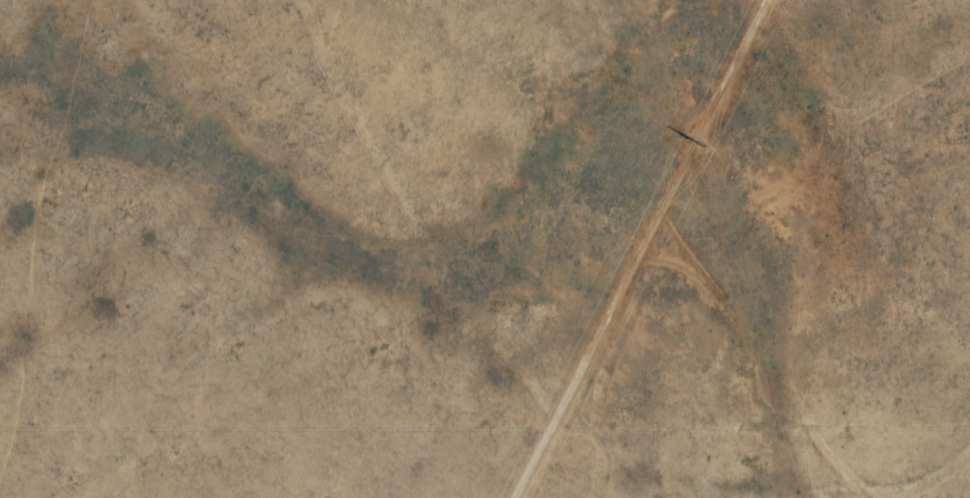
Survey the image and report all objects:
power tower: (693, 142)

